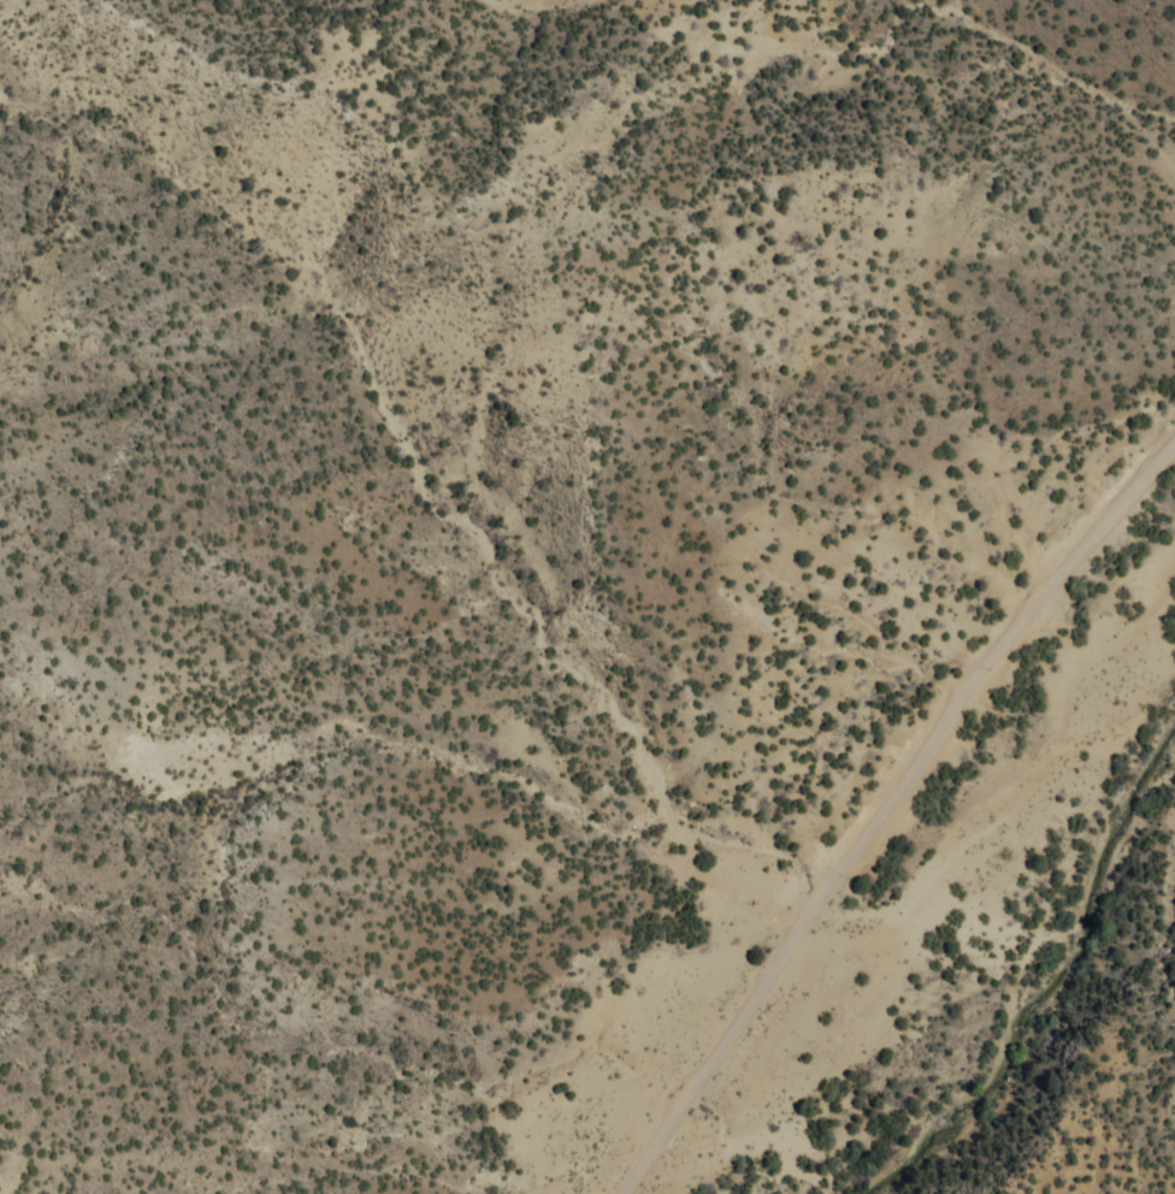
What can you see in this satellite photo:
road: (886, 810)

